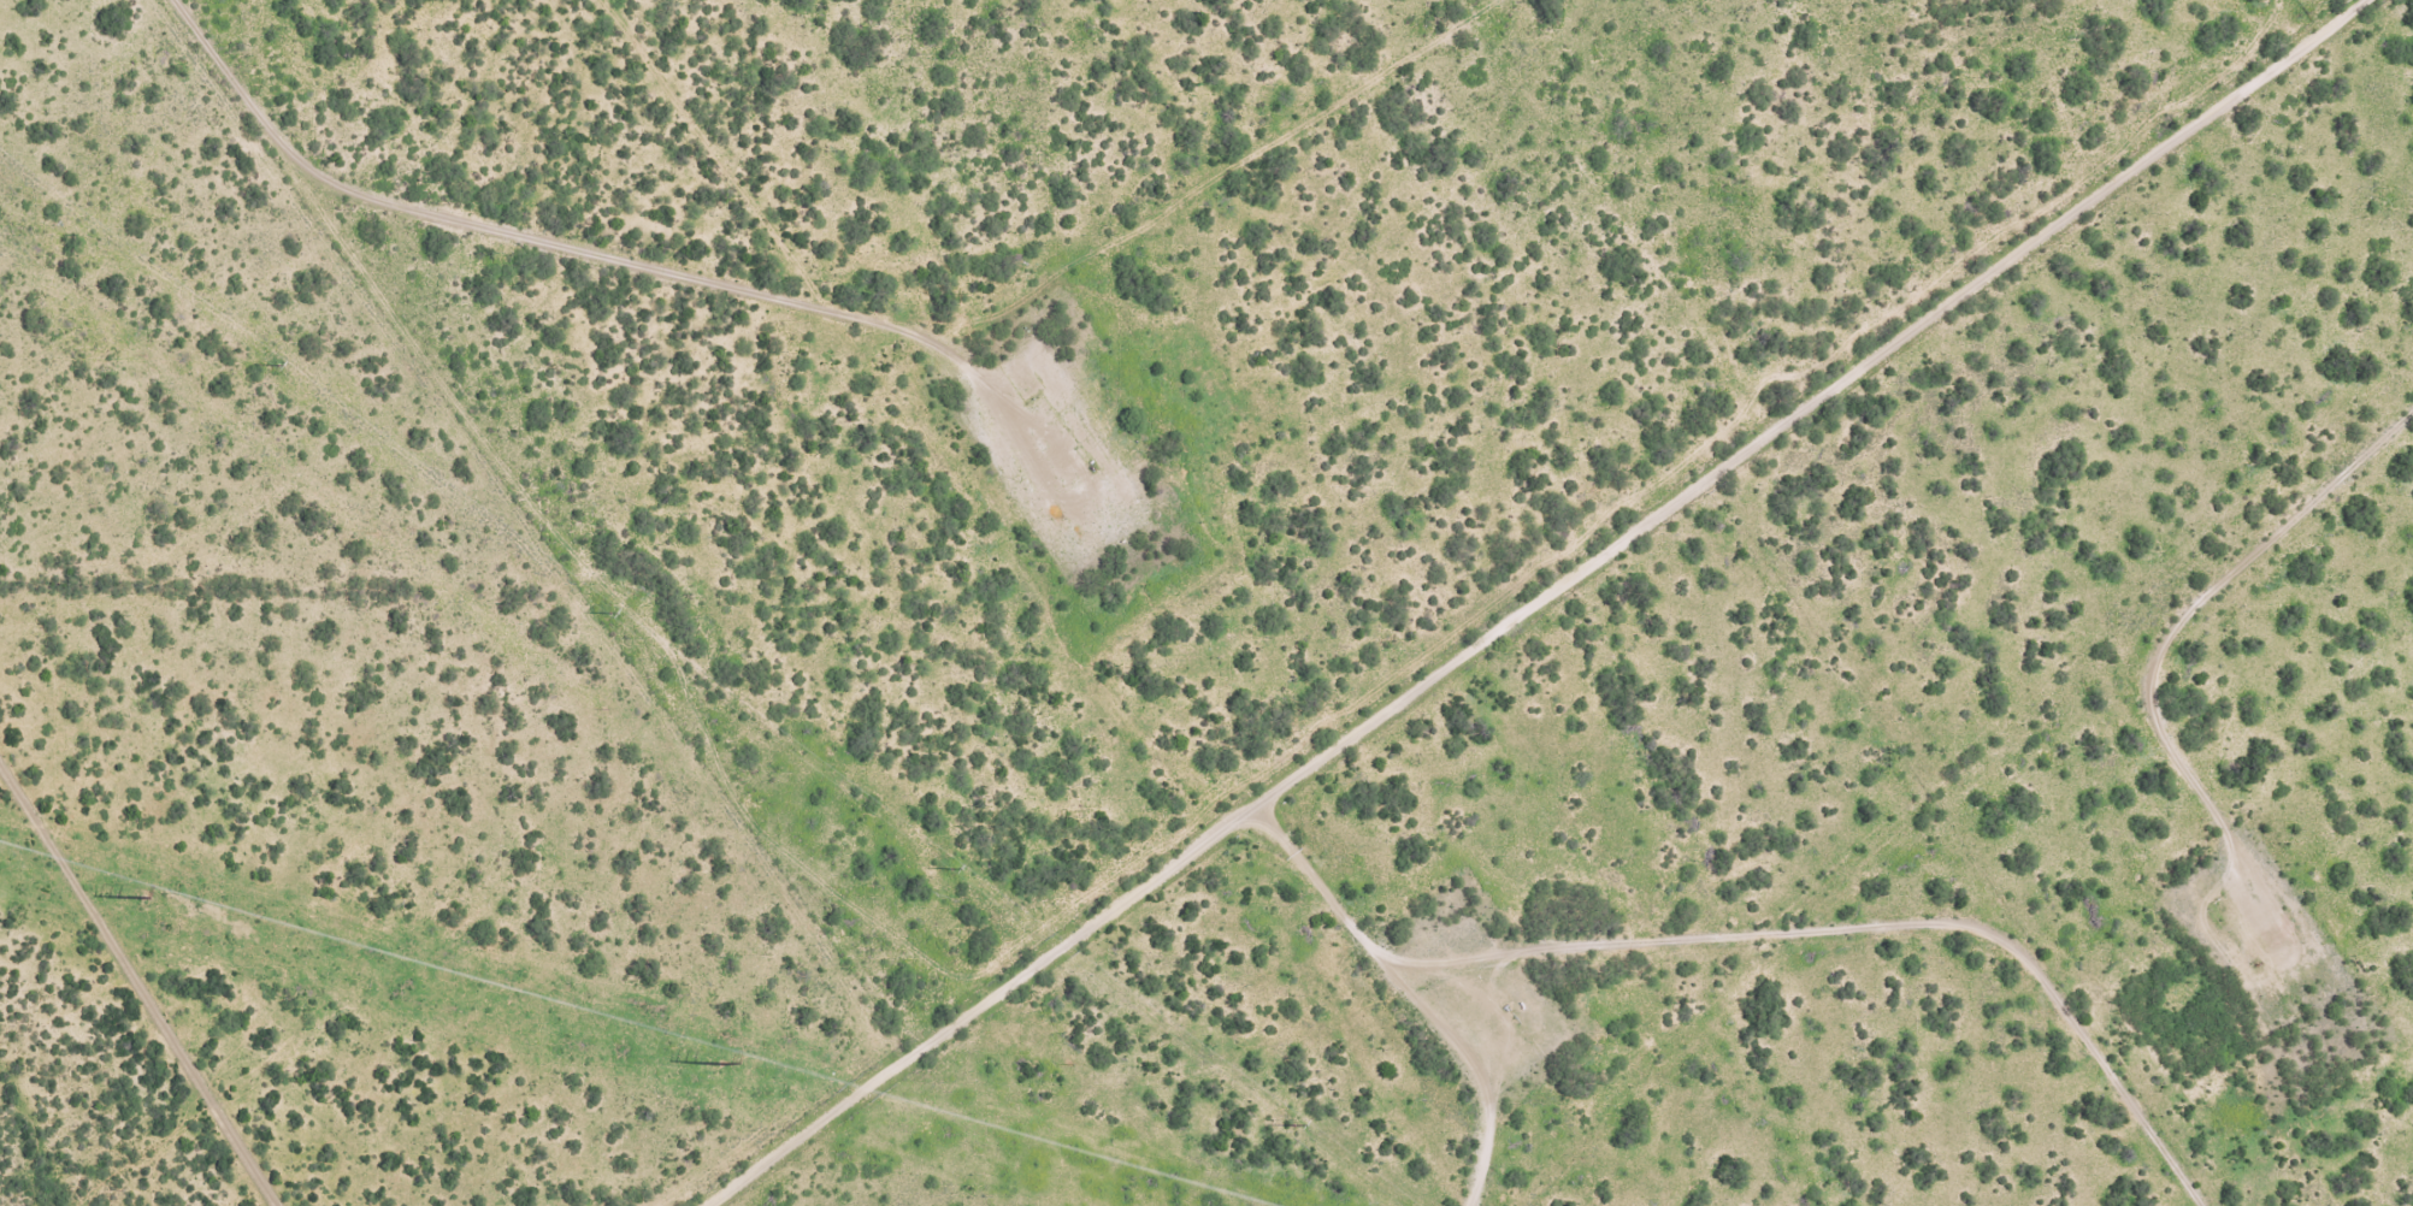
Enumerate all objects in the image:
power tower: (275, 365)
road: (1520, 603)
power tower: (606, 611)
power tower: (948, 868)
power tower: (144, 898)
power tower: (722, 1064)
power tower: (1290, 1124)

